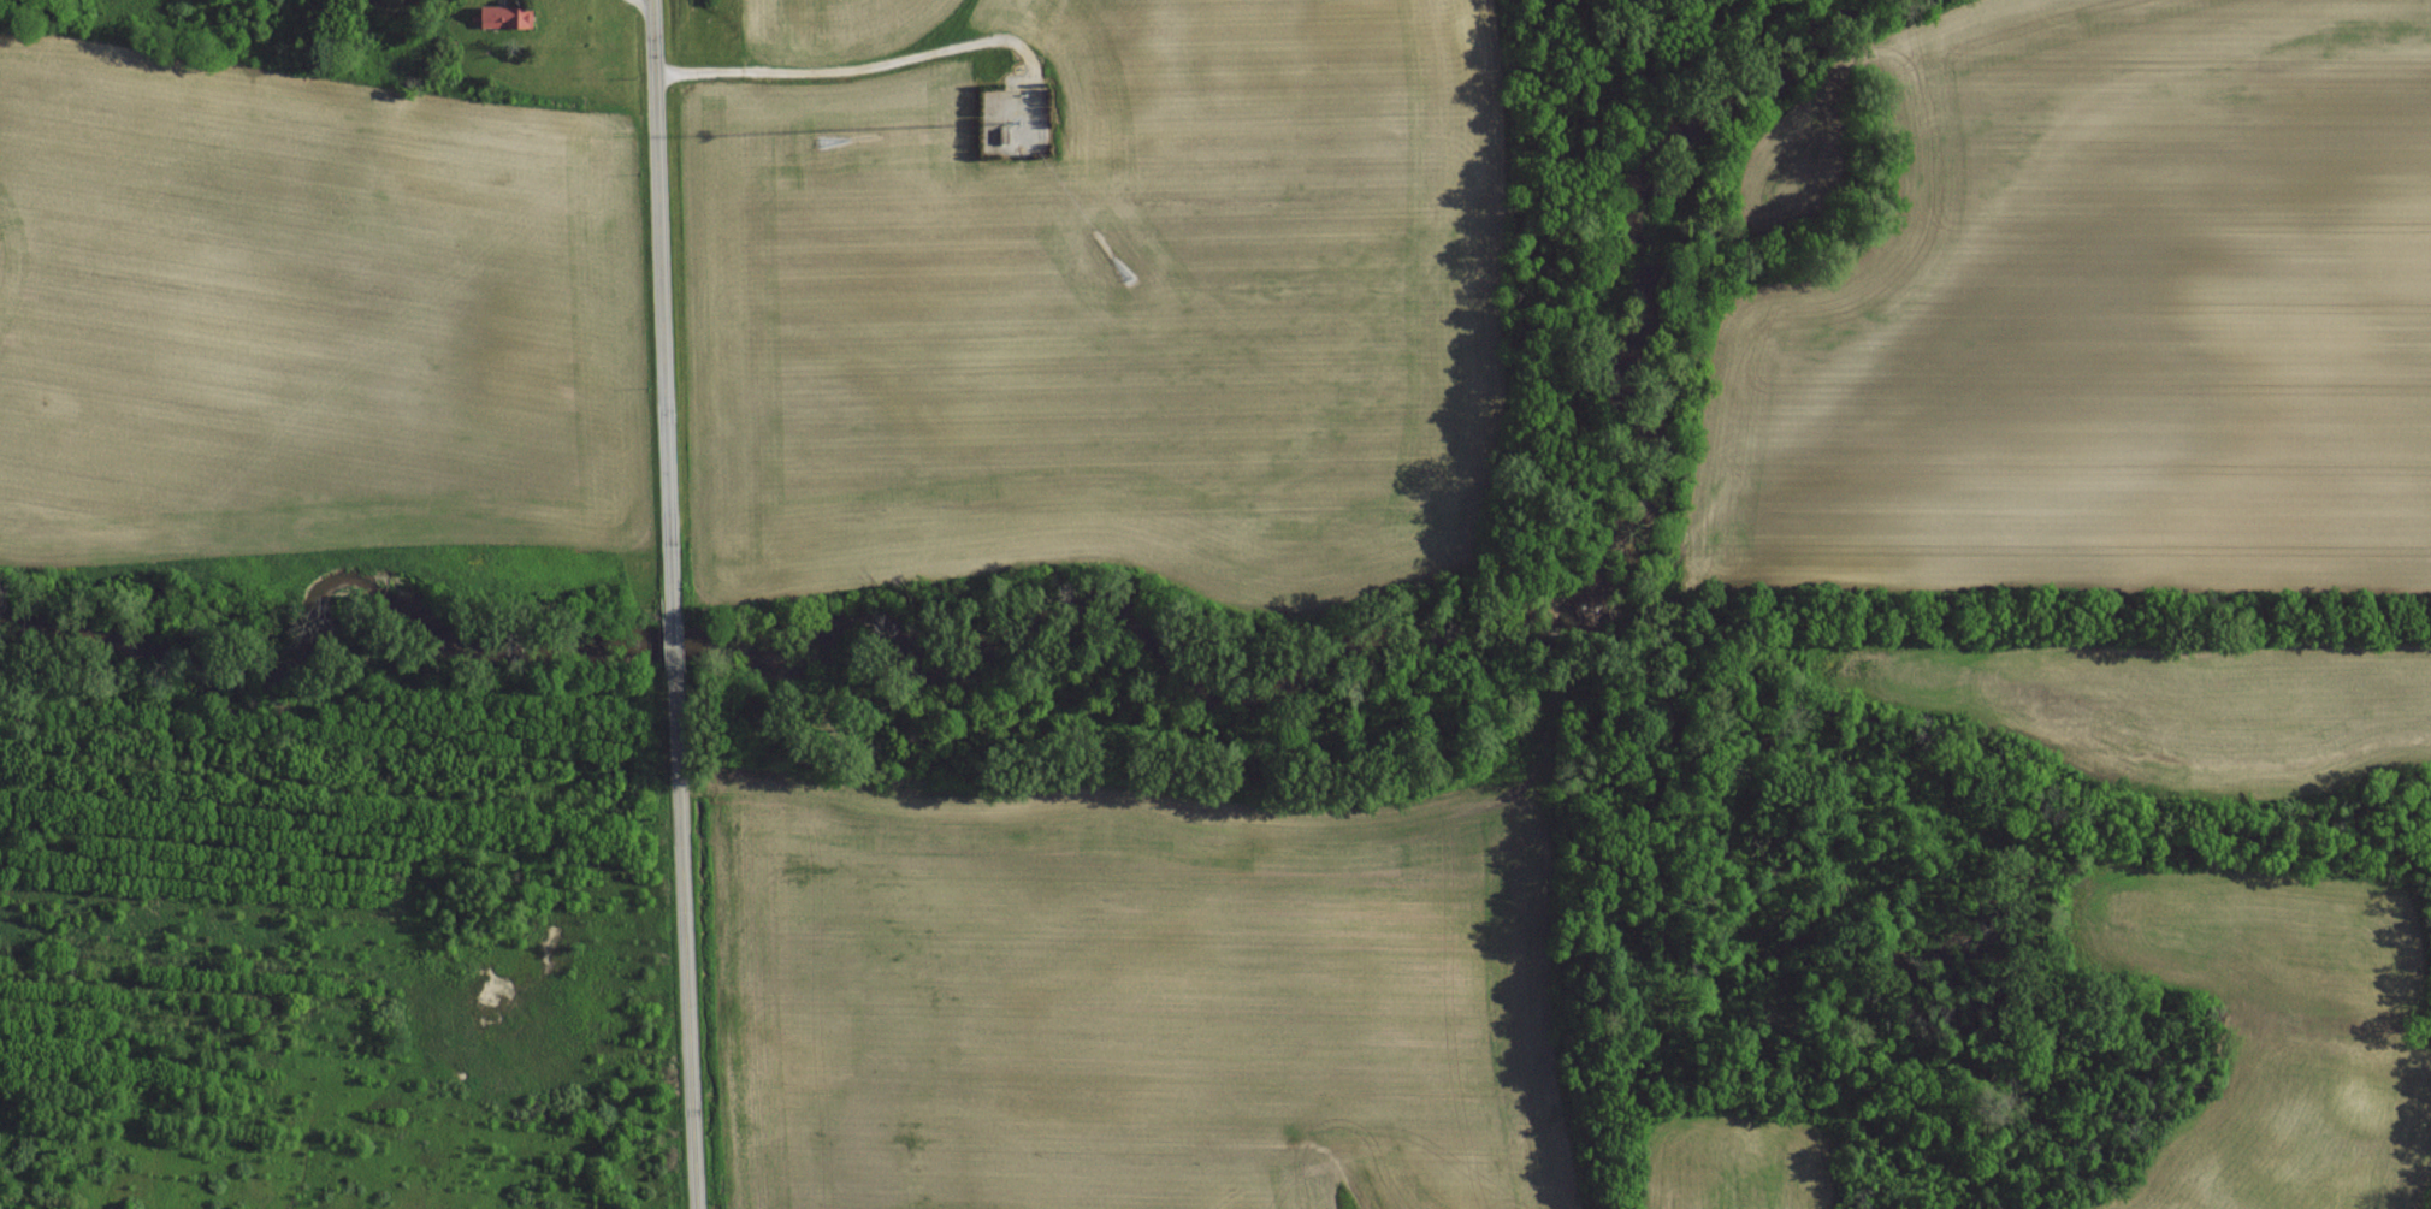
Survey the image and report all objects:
road: (638, 2)
road: (854, 70)
road: (672, 604)

